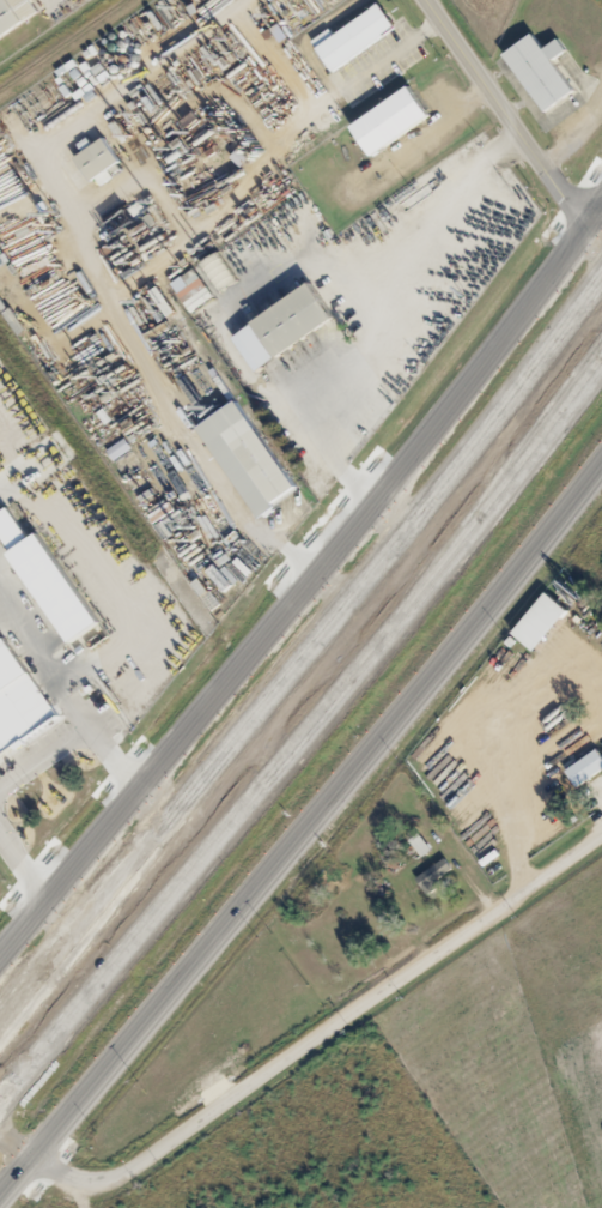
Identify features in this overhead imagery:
building: (16, 14)
building: (359, 36)
building: (542, 72)
road: (512, 113)
building: (397, 122)
building: (98, 159)
building: (221, 273)
building: (299, 319)
building: (253, 457)
building: (59, 588)
road: (305, 592)
building: (542, 622)
road: (303, 659)
building: (20, 702)
road: (302, 731)
building: (586, 769)
road: (304, 832)
building: (422, 846)
building: (434, 877)
road: (326, 1034)

